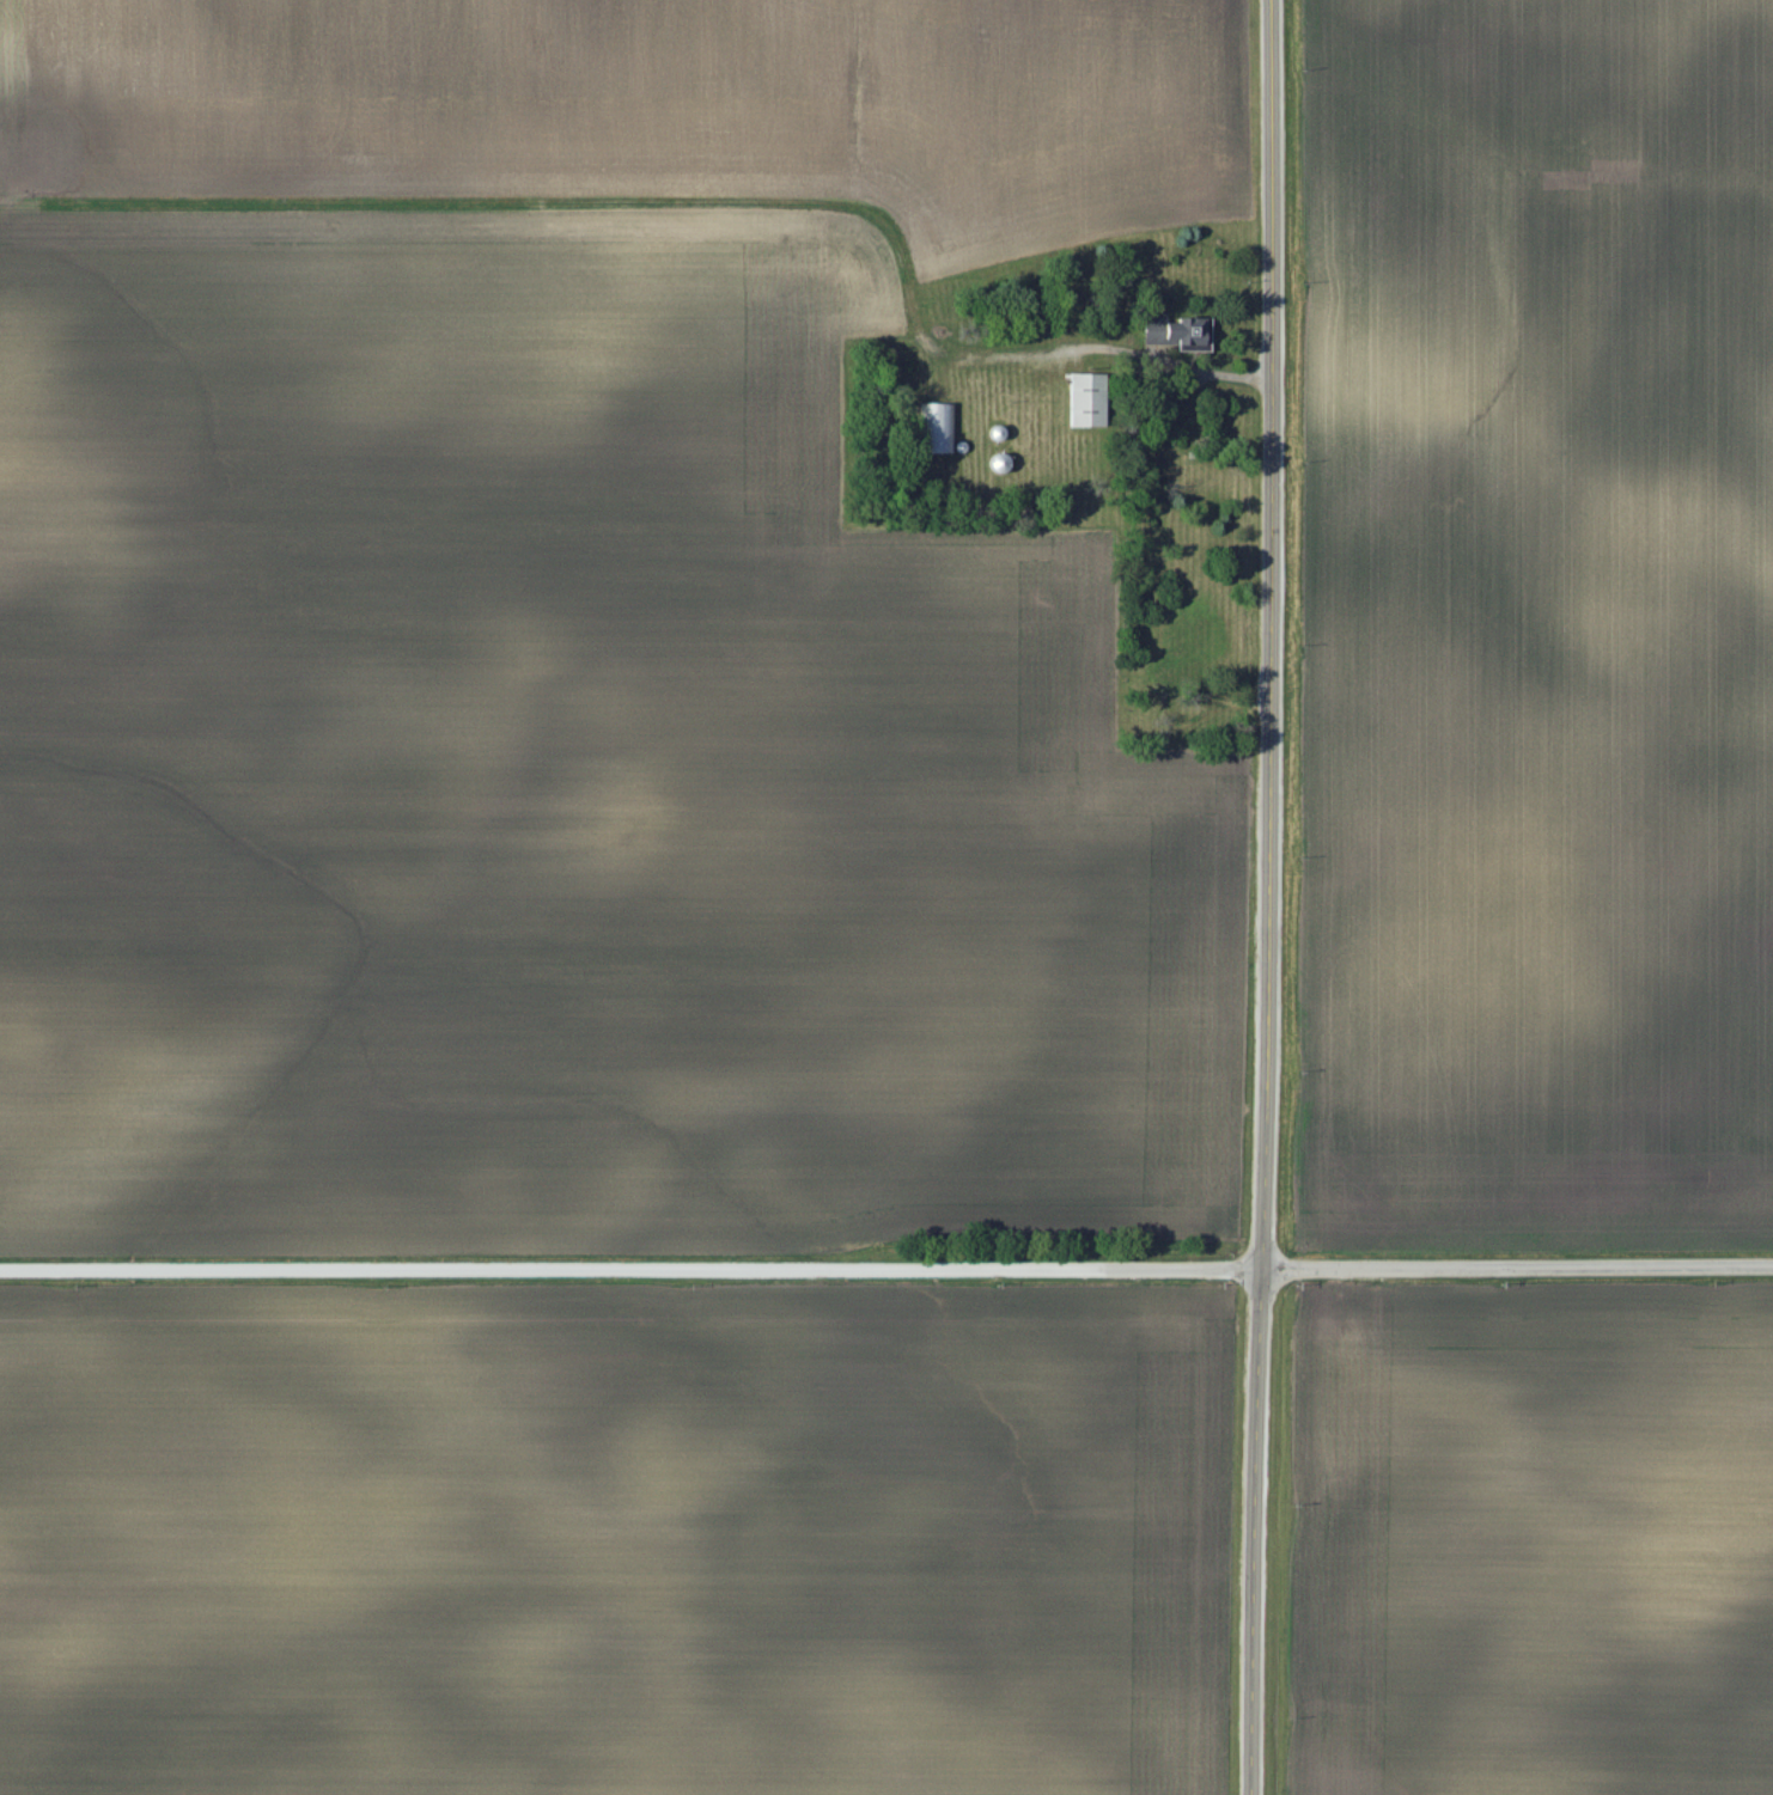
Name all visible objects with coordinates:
road: (1176, 364)
road: (1272, 633)
road: (1516, 1264)
road: (629, 1268)
road: (1256, 1530)

